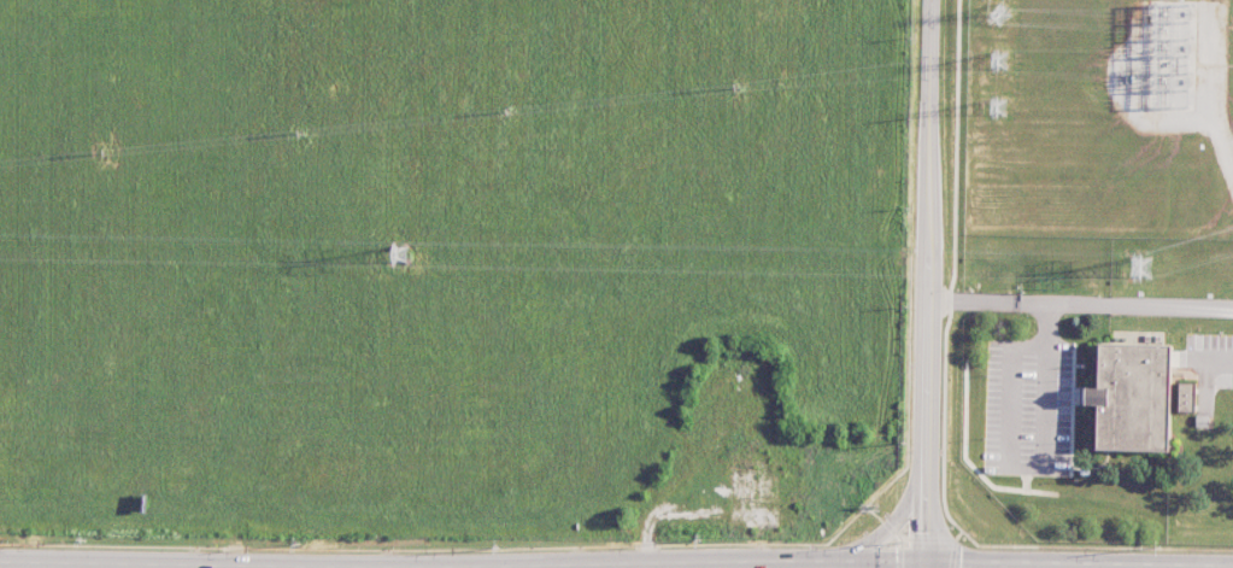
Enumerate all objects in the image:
power tower: (1000, 14)
power substation: (1163, 54)
power tower: (999, 64)
power tower: (998, 109)
power tower: (400, 257)
power tower: (1140, 269)
road: (927, 283)
road: (1080, 303)
building: (1133, 397)
building: (1187, 397)
building: (1202, 420)
road: (882, 534)

